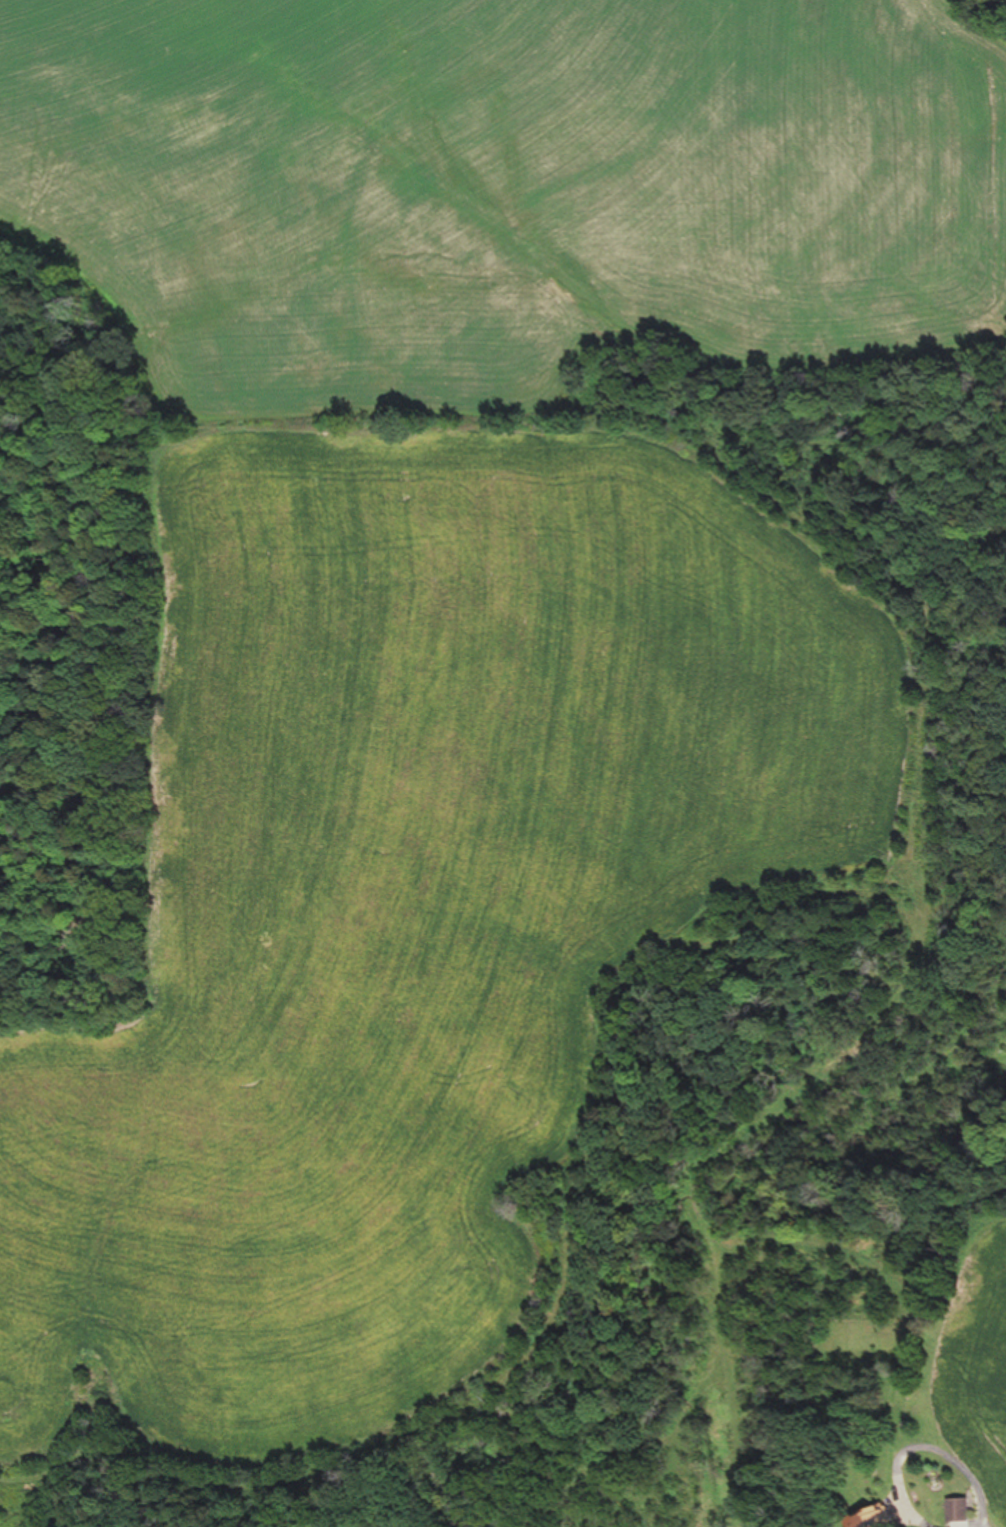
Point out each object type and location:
building: (959, 1511)

